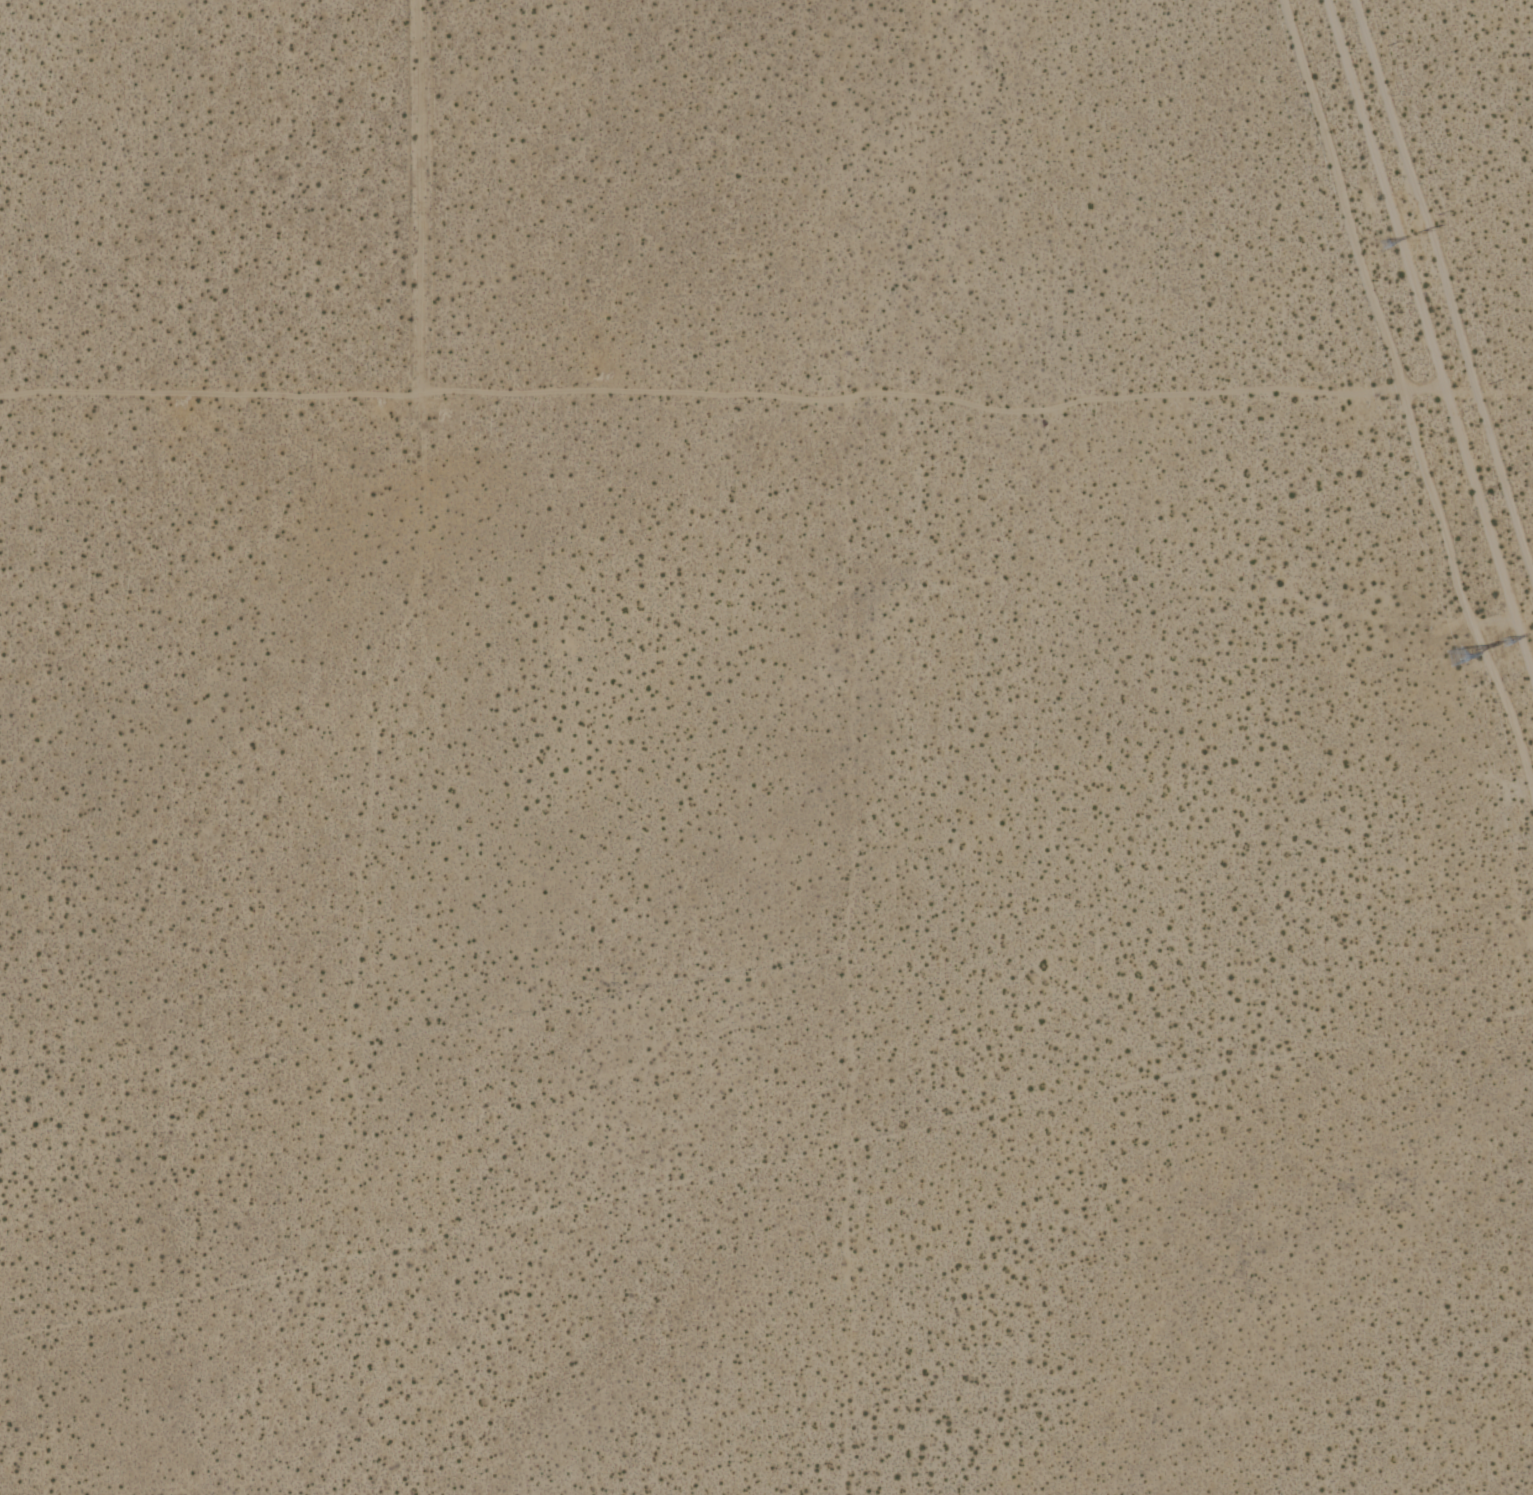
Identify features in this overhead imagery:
power tower: (1426, 236)
power tower: (1384, 251)
power tower: (1502, 645)
power tower: (1455, 654)

